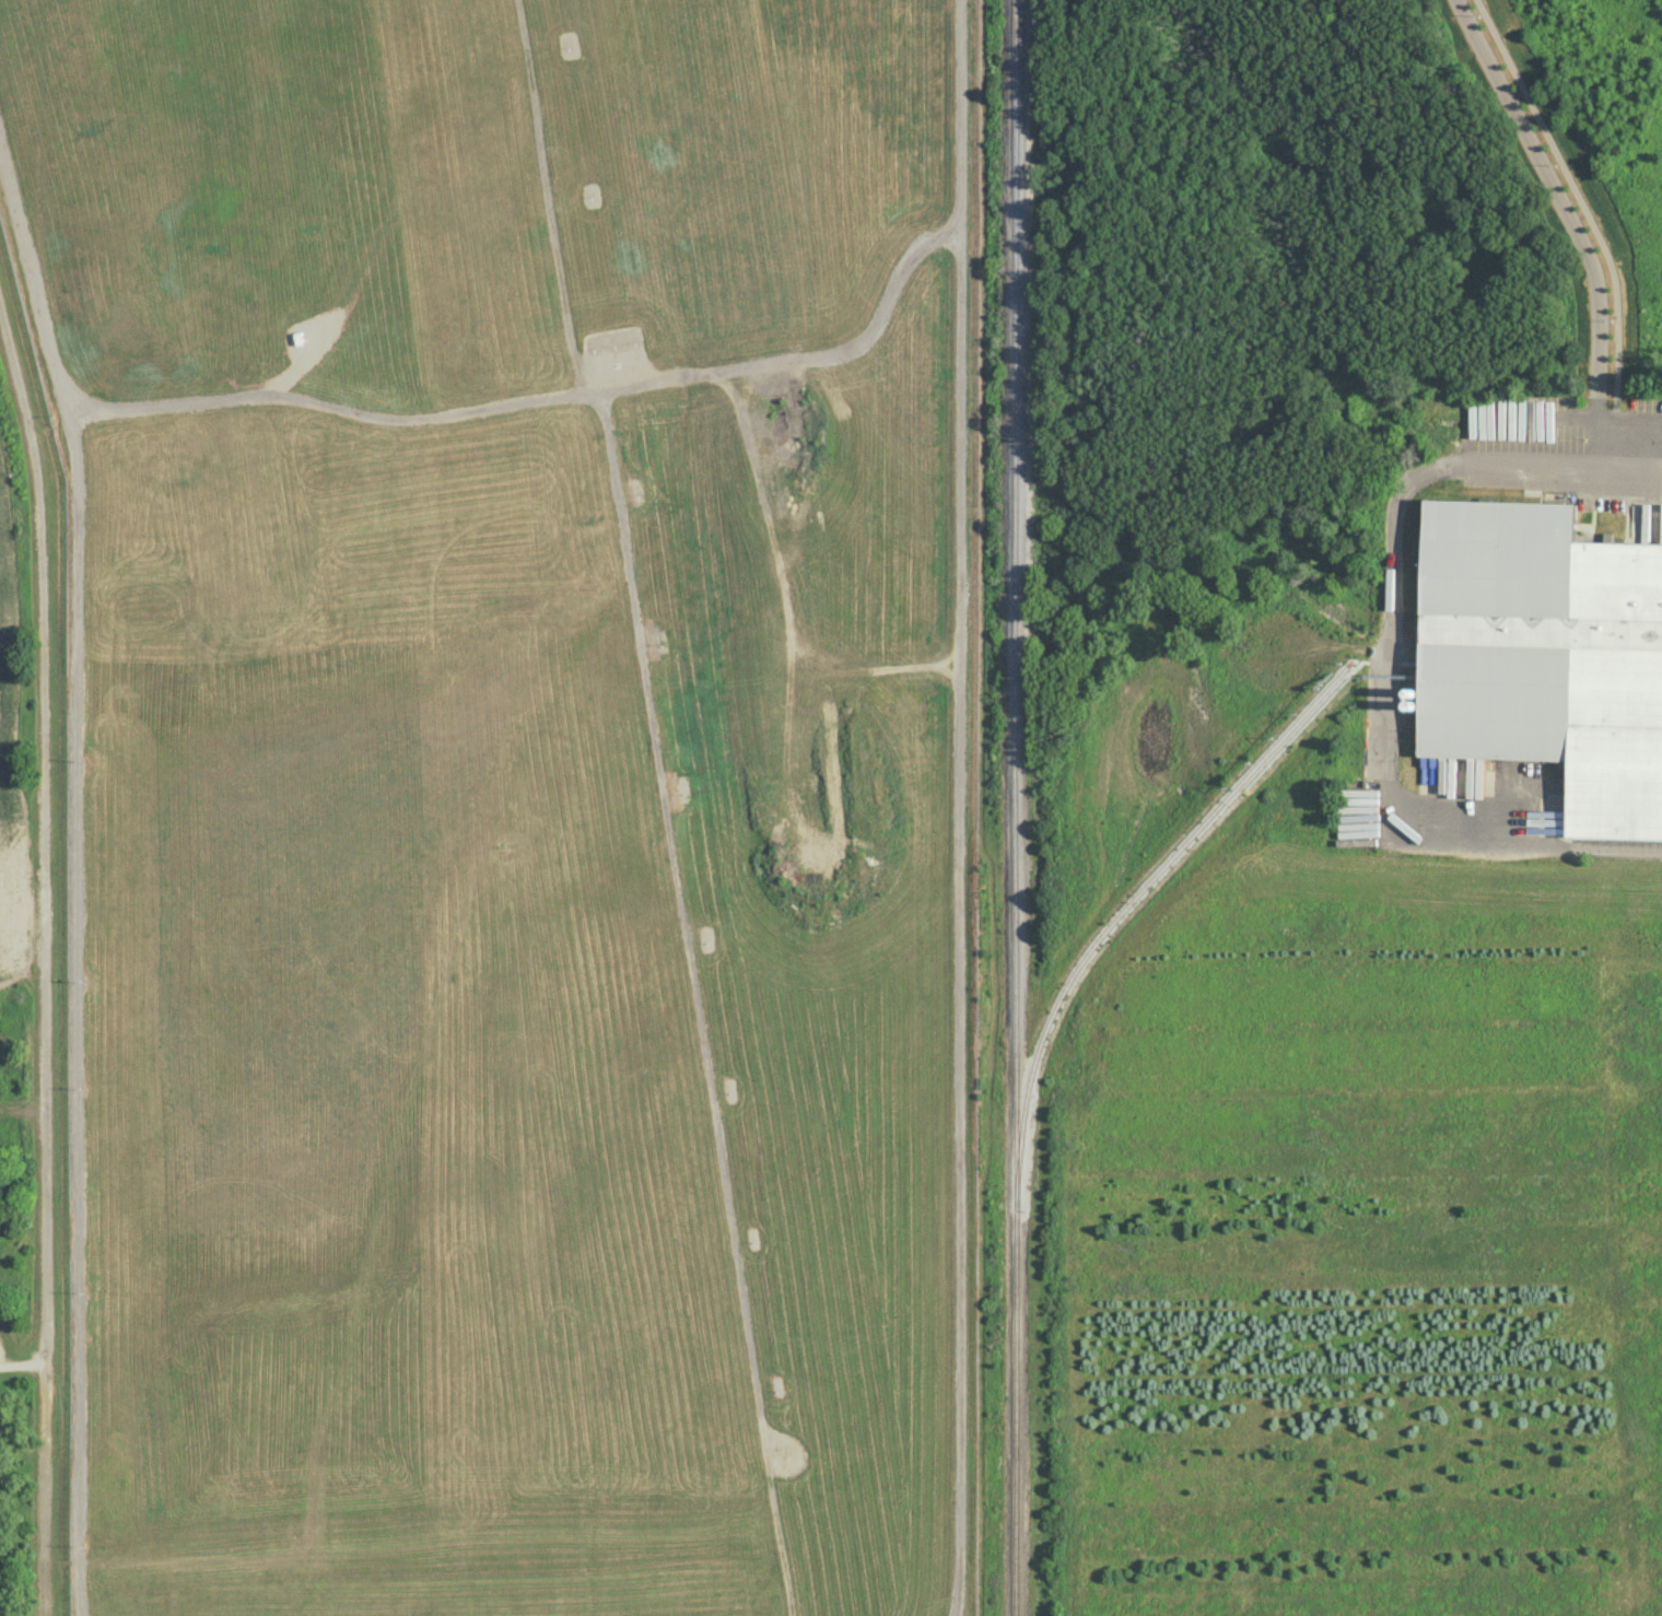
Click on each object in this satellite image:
road: (1570, 221)
road: (1590, 221)
road: (806, 363)
road: (329, 407)
building: (1545, 655)
road: (1394, 663)
road: (654, 726)
airport: (515, 797)
road: (961, 808)
railway: (1017, 808)
road: (78, 875)
railway: (1137, 893)
road: (48, 961)
road: (24, 1368)

